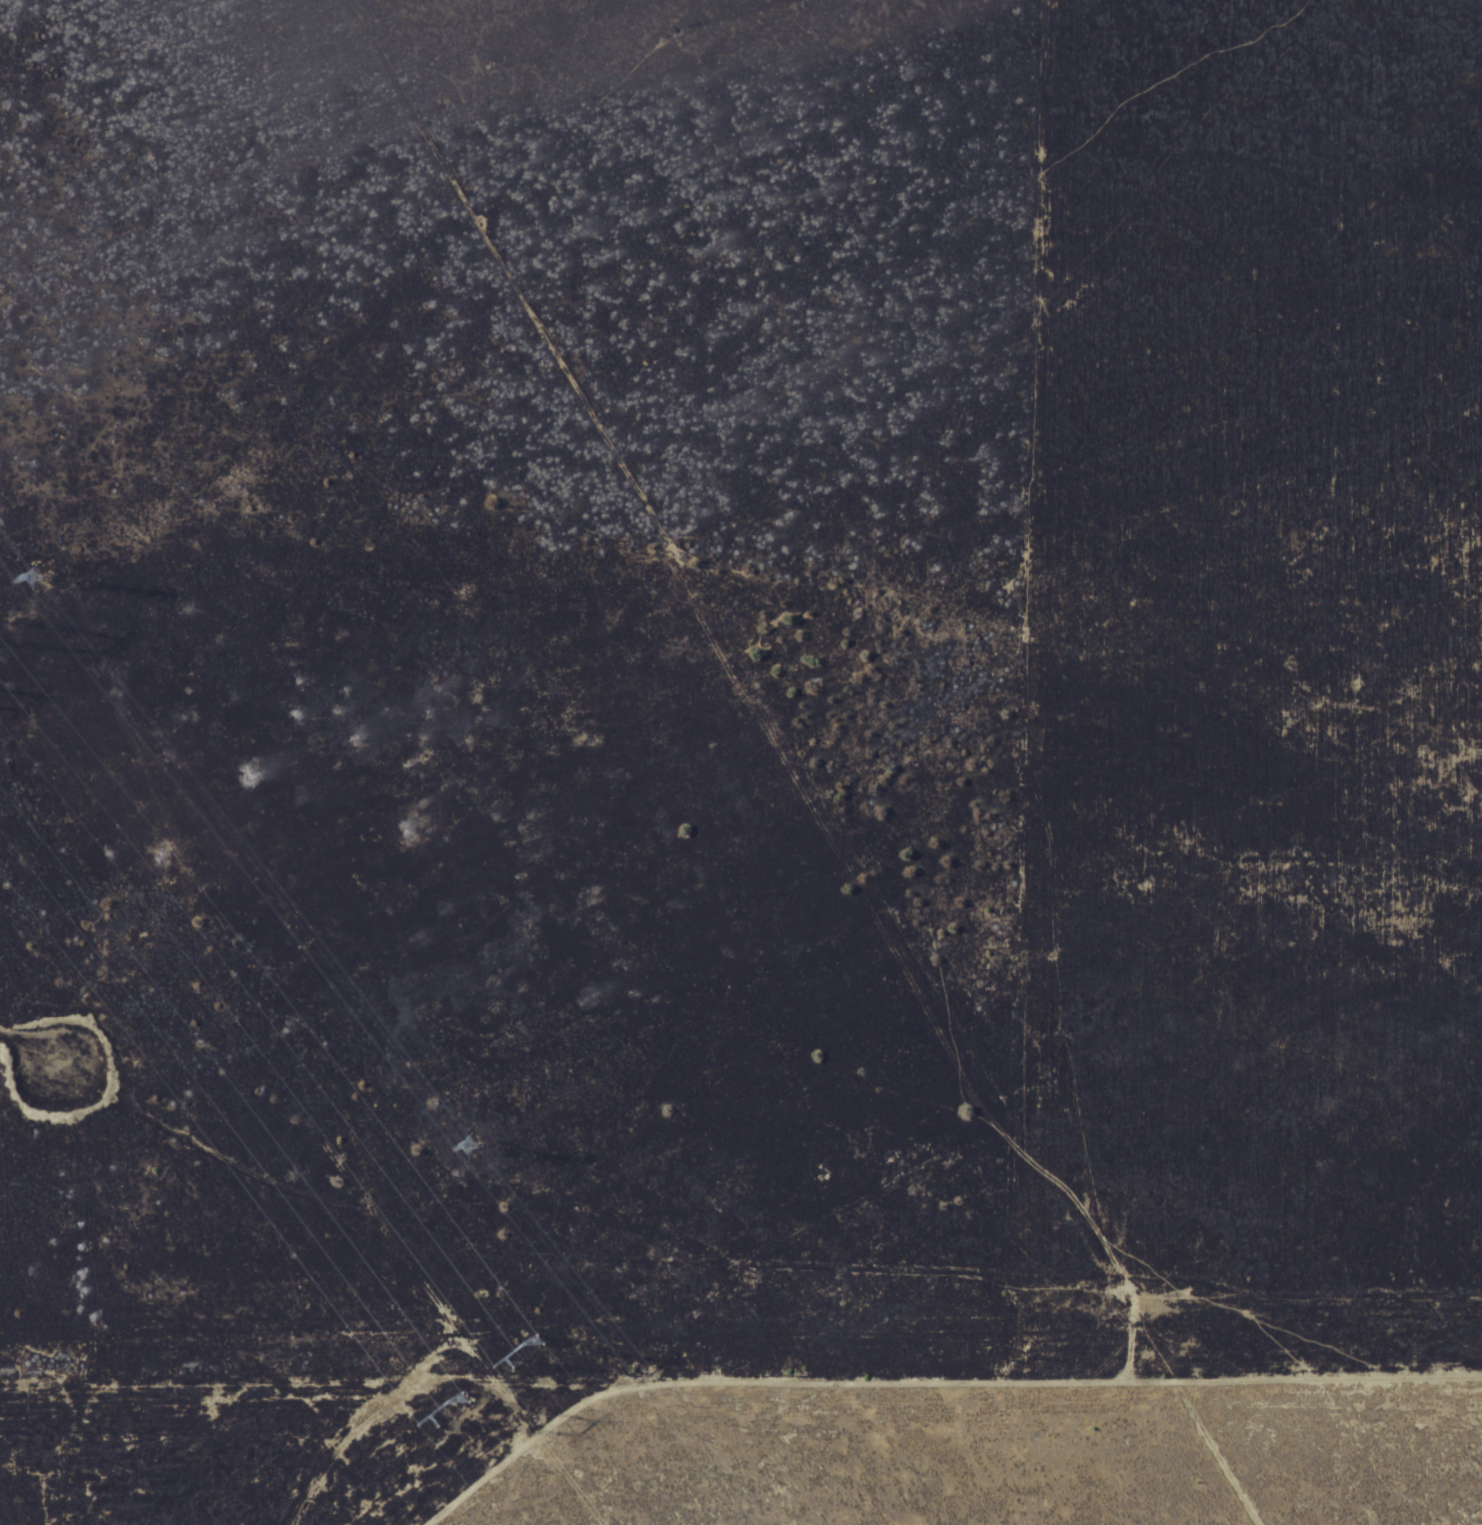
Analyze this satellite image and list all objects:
power tower: (40, 579)
power tower: (466, 1144)
road: (740, 1259)
power tower: (522, 1351)
power tower: (454, 1416)

